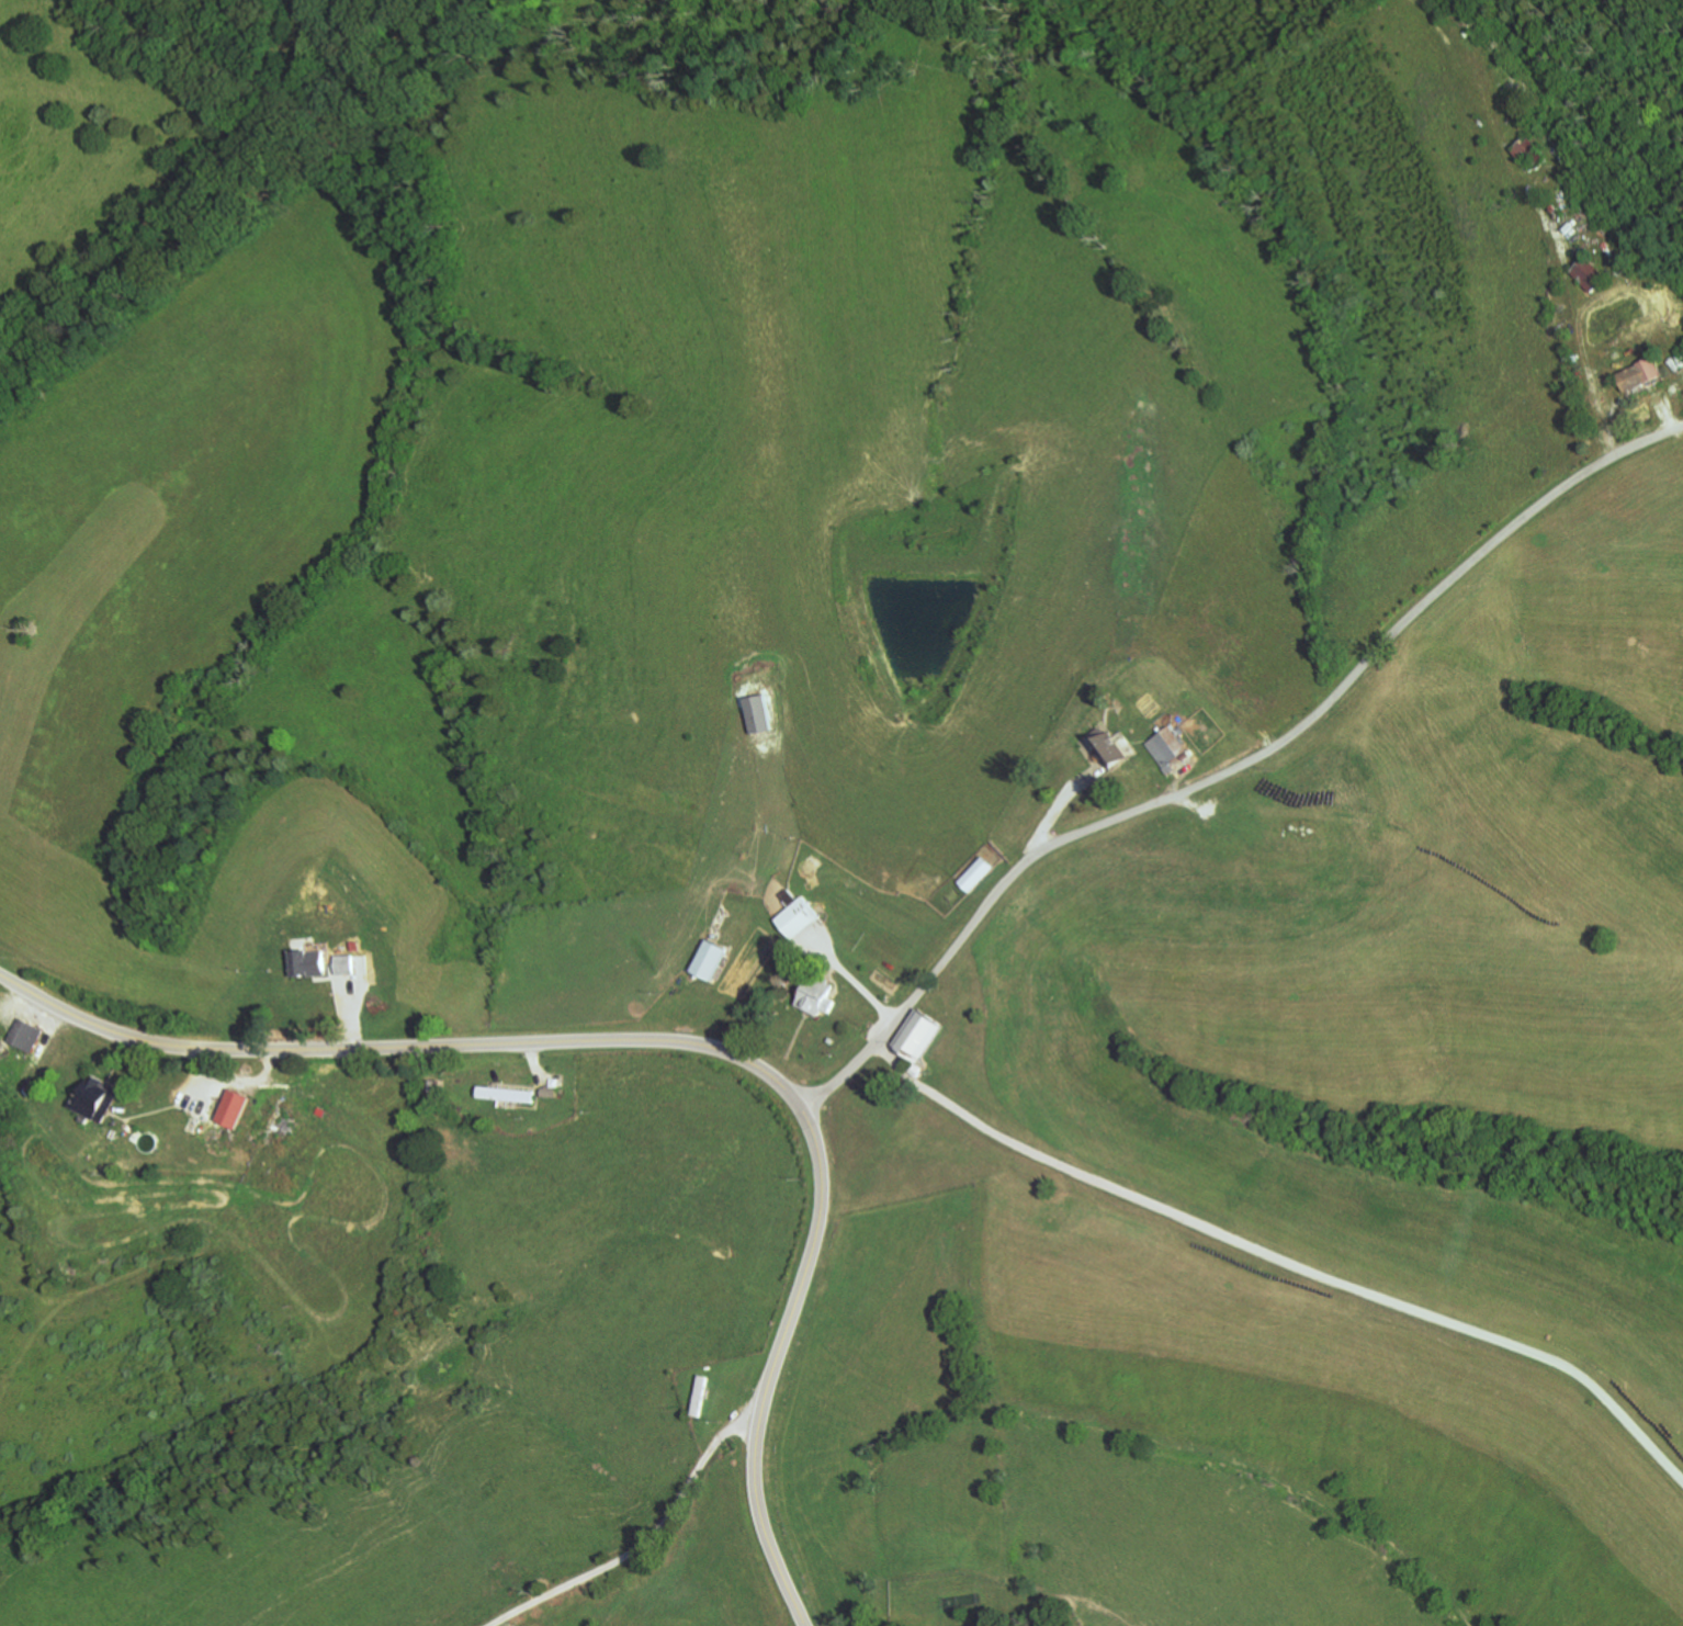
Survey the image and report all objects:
building: (1528, 153)
building: (1590, 273)
road: (1578, 316)
building: (1642, 374)
road: (1668, 416)
building: (760, 712)
building: (1110, 746)
building: (1172, 746)
road: (1235, 767)
road: (1064, 798)
road: (1191, 802)
building: (978, 872)
building: (800, 913)
building: (359, 944)
building: (710, 958)
building: (312, 961)
building: (349, 962)
road: (851, 974)
road: (332, 978)
building: (820, 993)
road: (18, 1005)
road: (352, 1009)
road: (46, 1030)
building: (26, 1032)
building: (923, 1032)
road: (673, 1039)
building: (833, 1039)
road: (123, 1058)
road: (271, 1064)
road: (538, 1068)
building: (916, 1068)
road: (242, 1077)
road: (201, 1079)
building: (552, 1091)
building: (509, 1093)
building: (99, 1097)
building: (236, 1106)
building: (323, 1109)
road: (149, 1113)
road: (1284, 1260)
building: (702, 1394)
road: (645, 1537)
road: (803, 1624)
building: (983, 1625)

